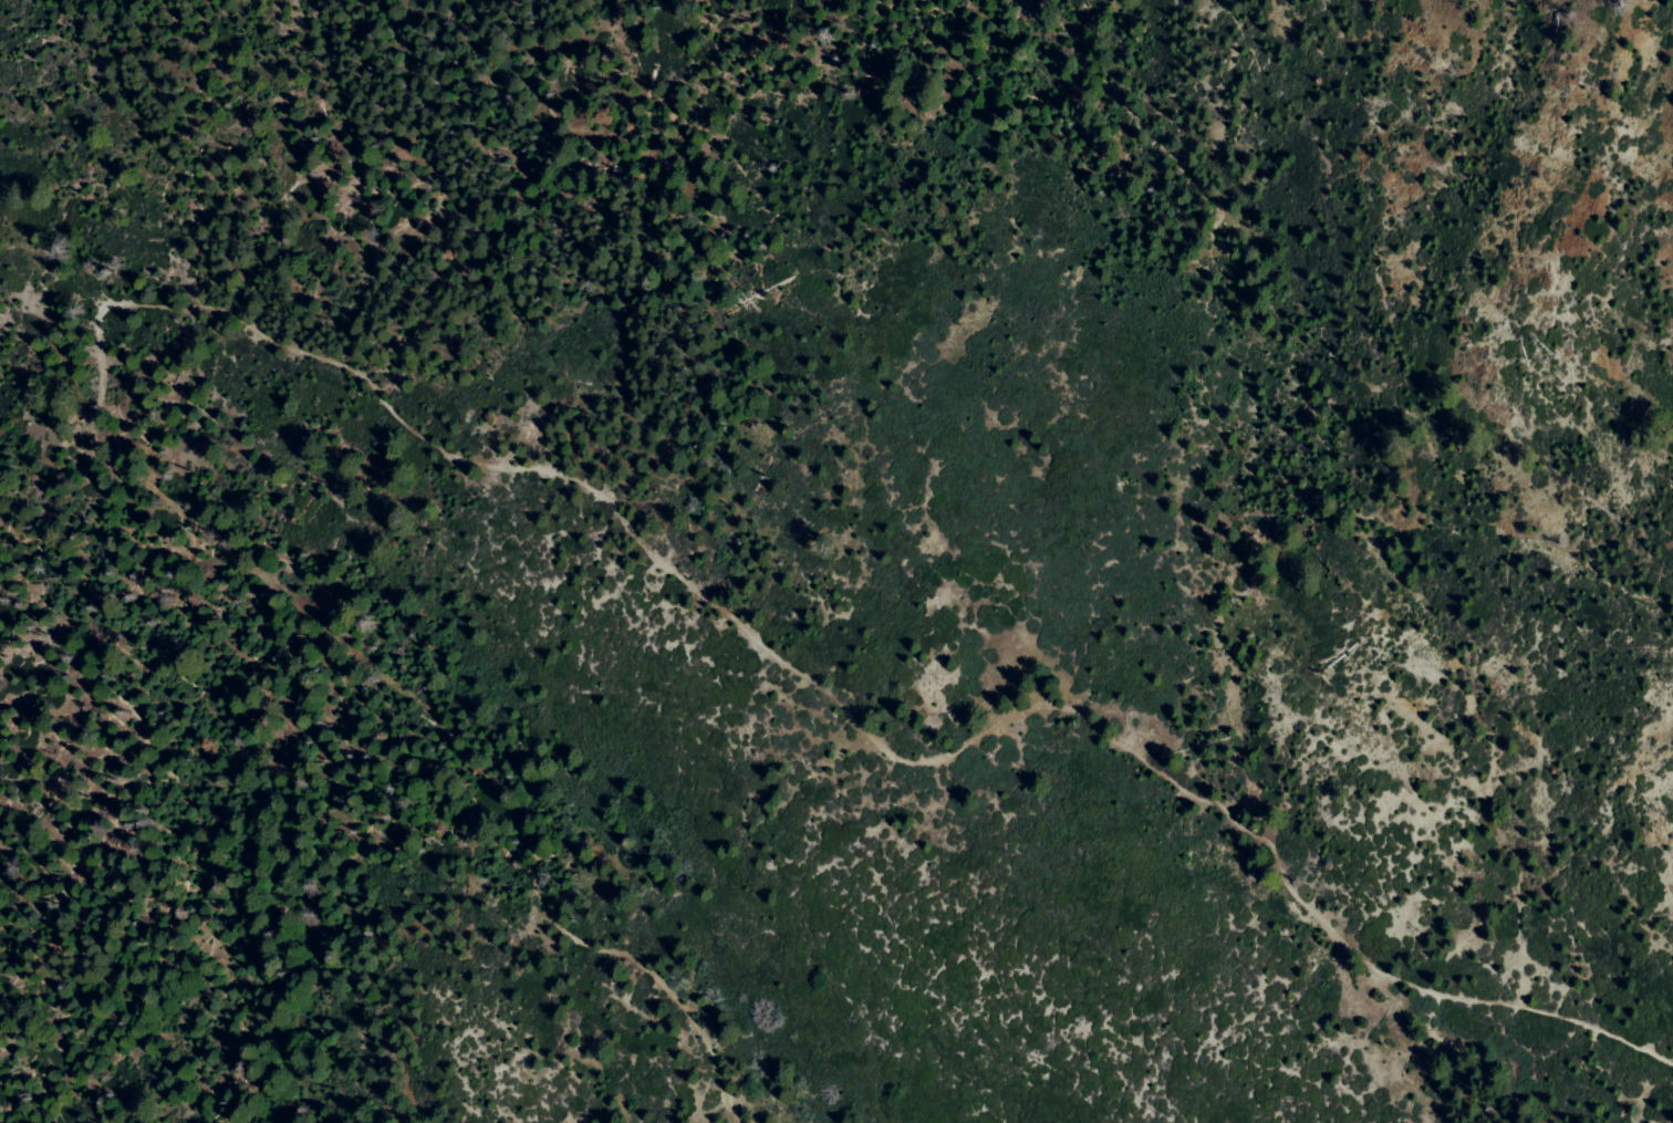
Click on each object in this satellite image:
road: (711, 1054)

